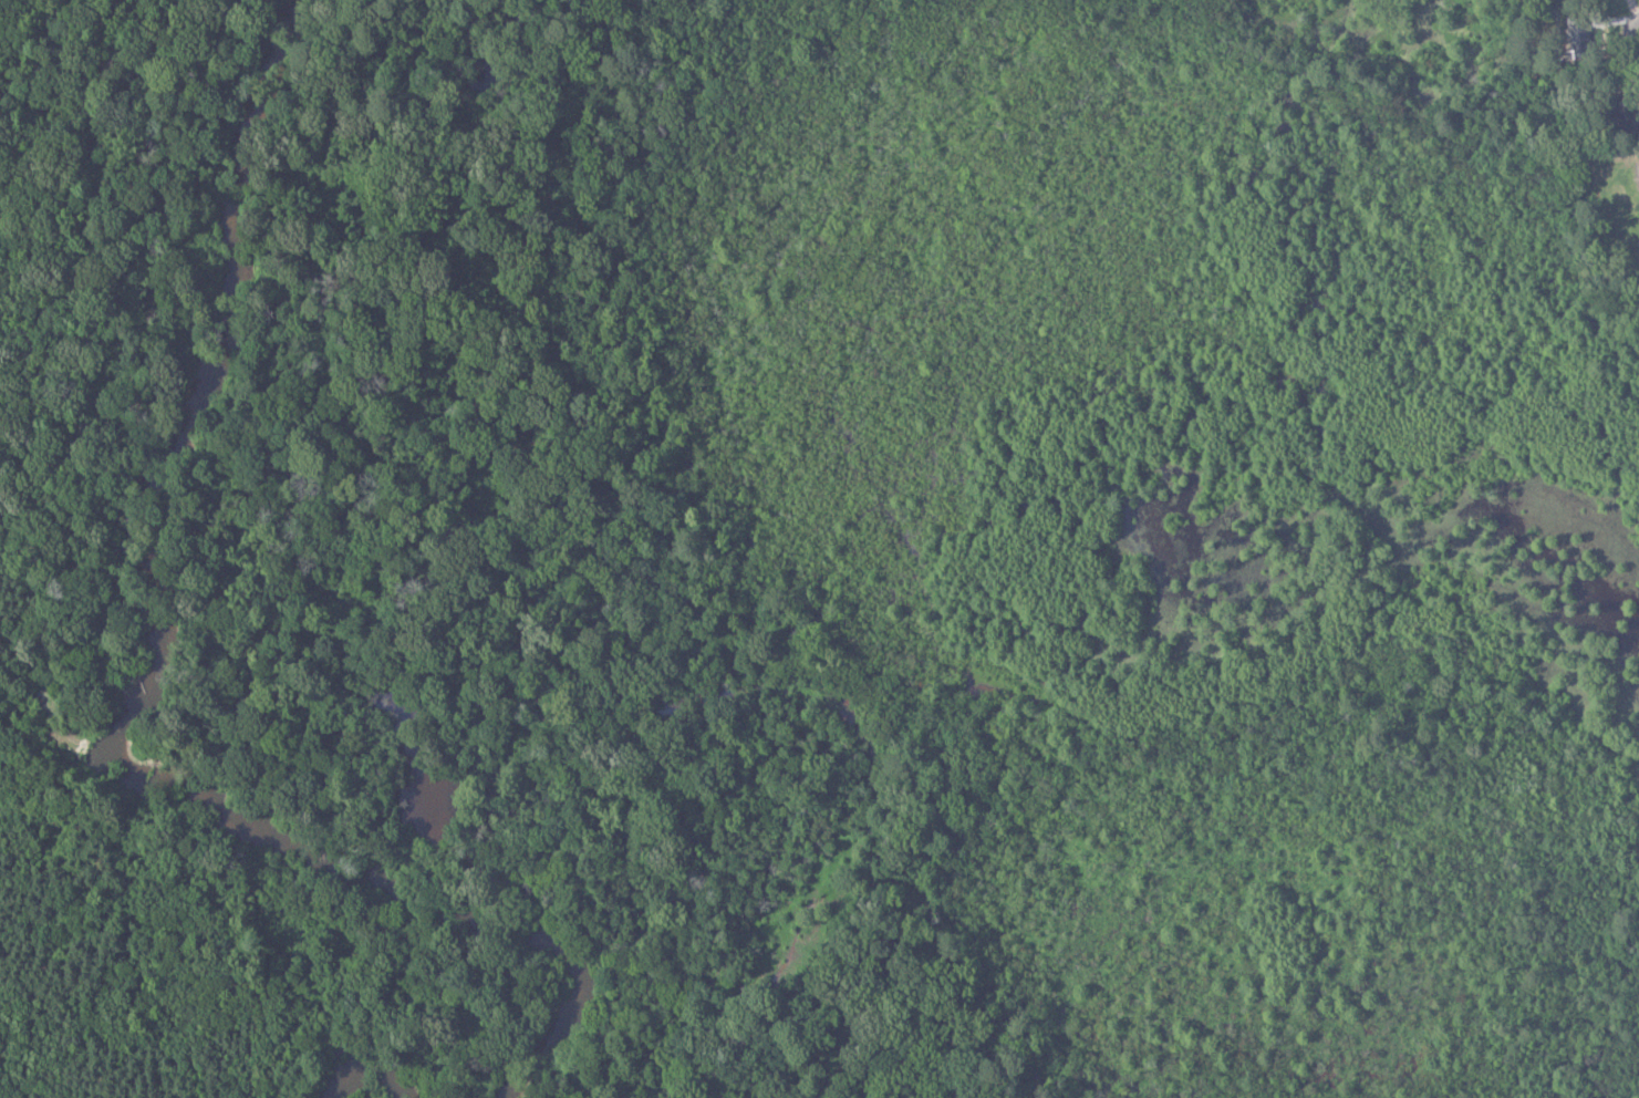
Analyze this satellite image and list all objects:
road: (1629, 34)
building: (1576, 43)

